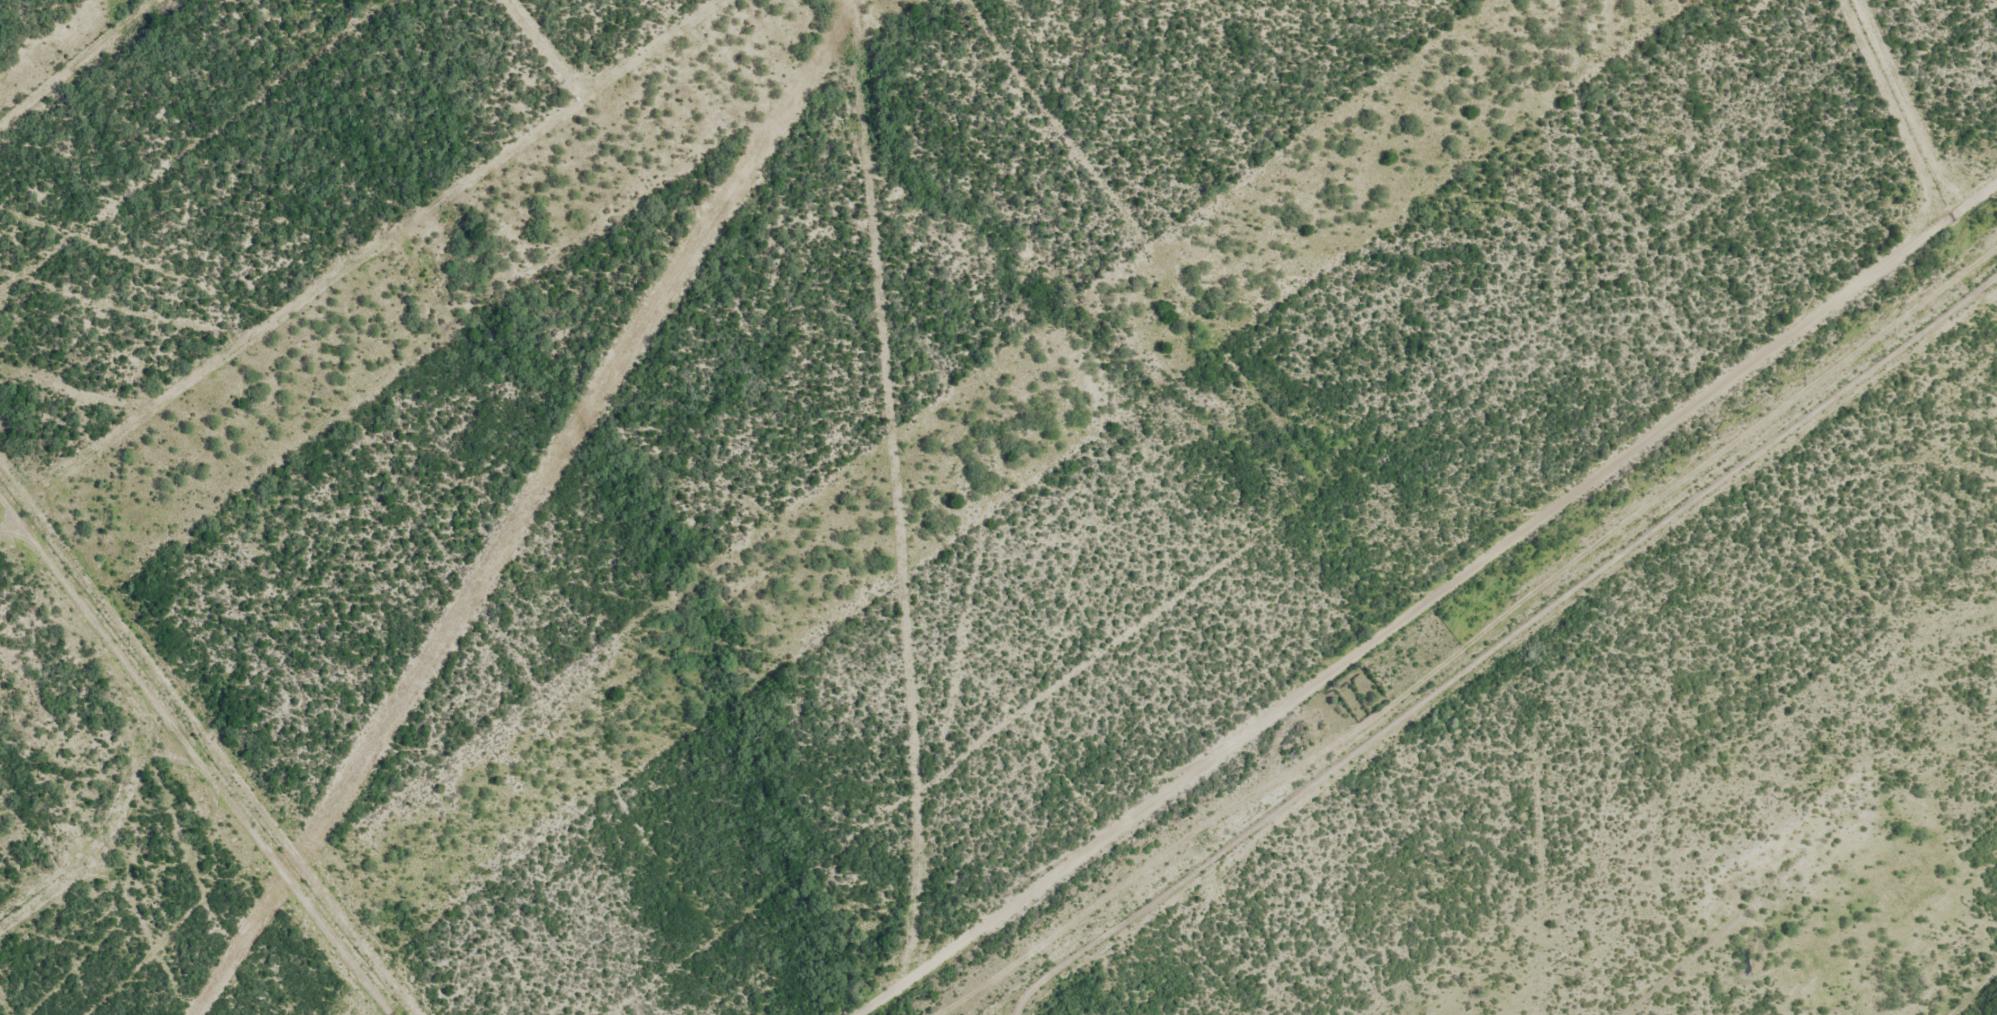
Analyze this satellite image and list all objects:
road: (1427, 600)
road: (1499, 647)

